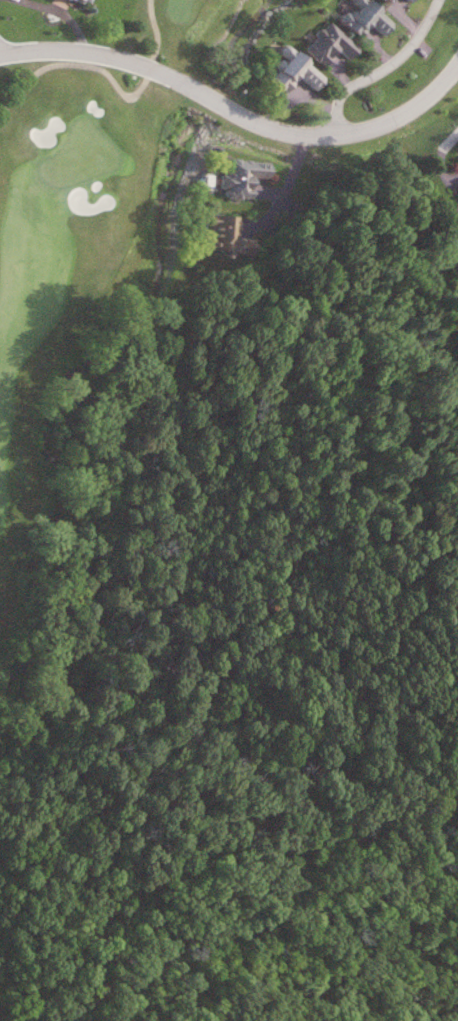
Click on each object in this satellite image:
building: (83, 0)
building: (382, 0)
building: (384, 0)
building: (408, 0)
building: (359, 16)
building: (327, 42)
building: (286, 69)
road: (379, 69)
road: (109, 76)
road: (235, 115)
road: (449, 137)
building: (238, 176)
road: (281, 183)
building: (455, 189)
building: (220, 234)
park: (84, 236)
park: (19, 991)

